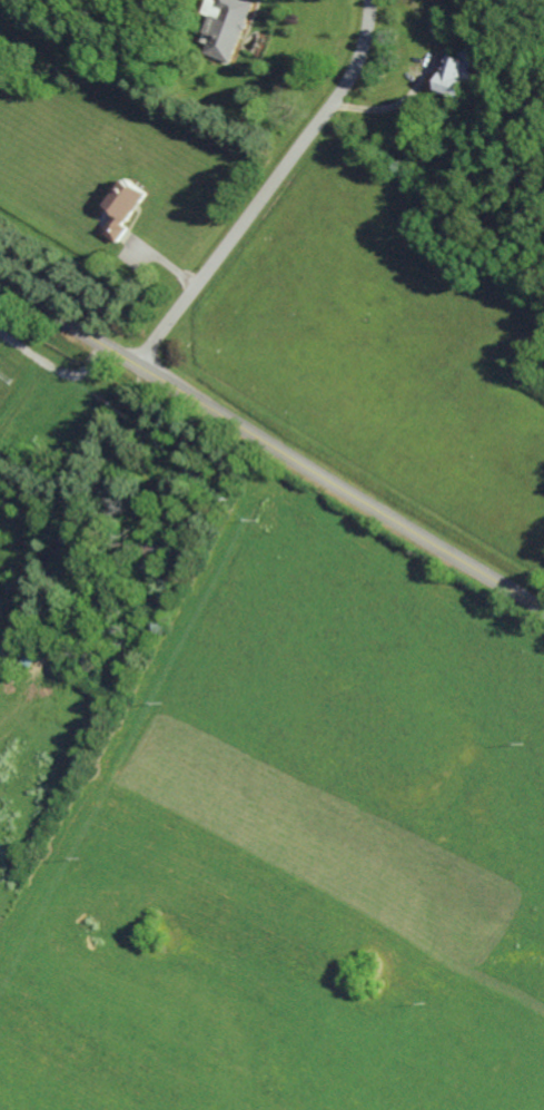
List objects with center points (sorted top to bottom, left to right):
building: (224, 27)
building: (459, 73)
road: (419, 81)
road: (269, 190)
building: (121, 208)
road: (41, 370)
road: (271, 446)

